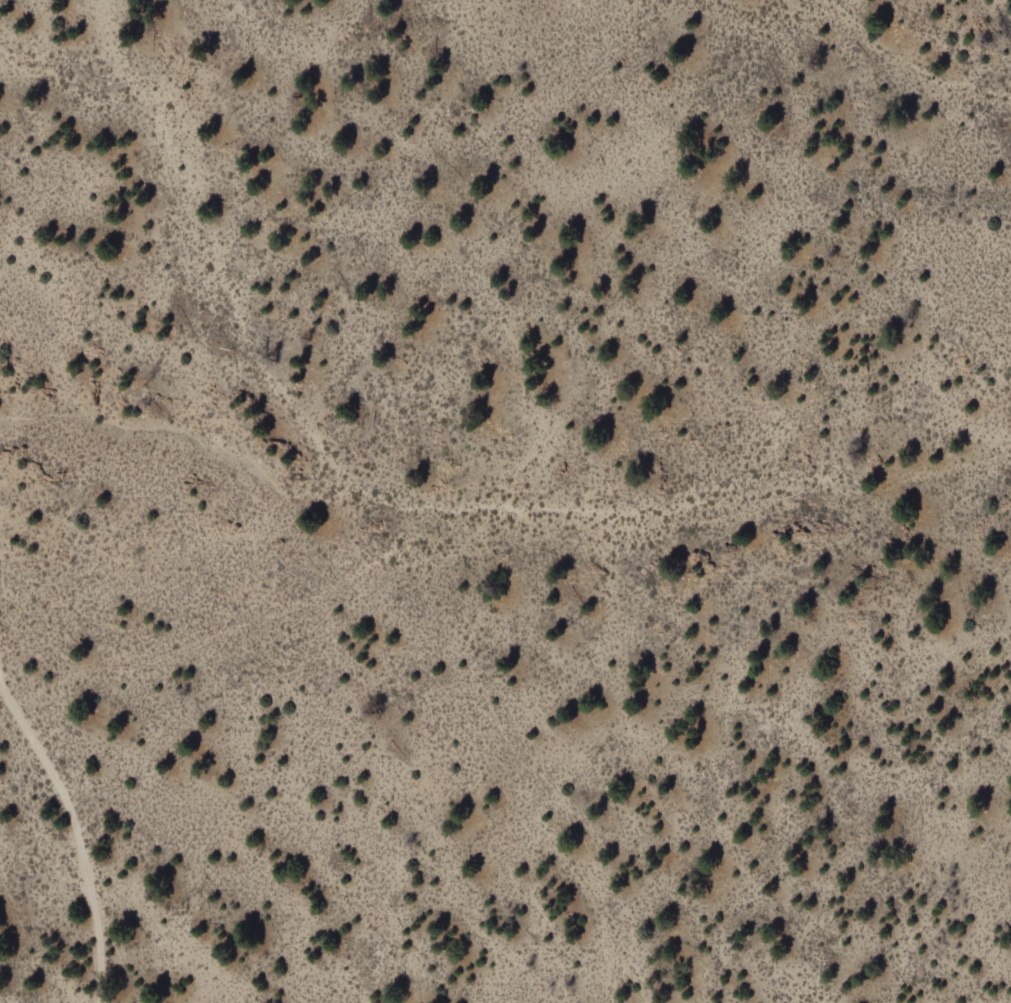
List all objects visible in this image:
road: (76, 834)

